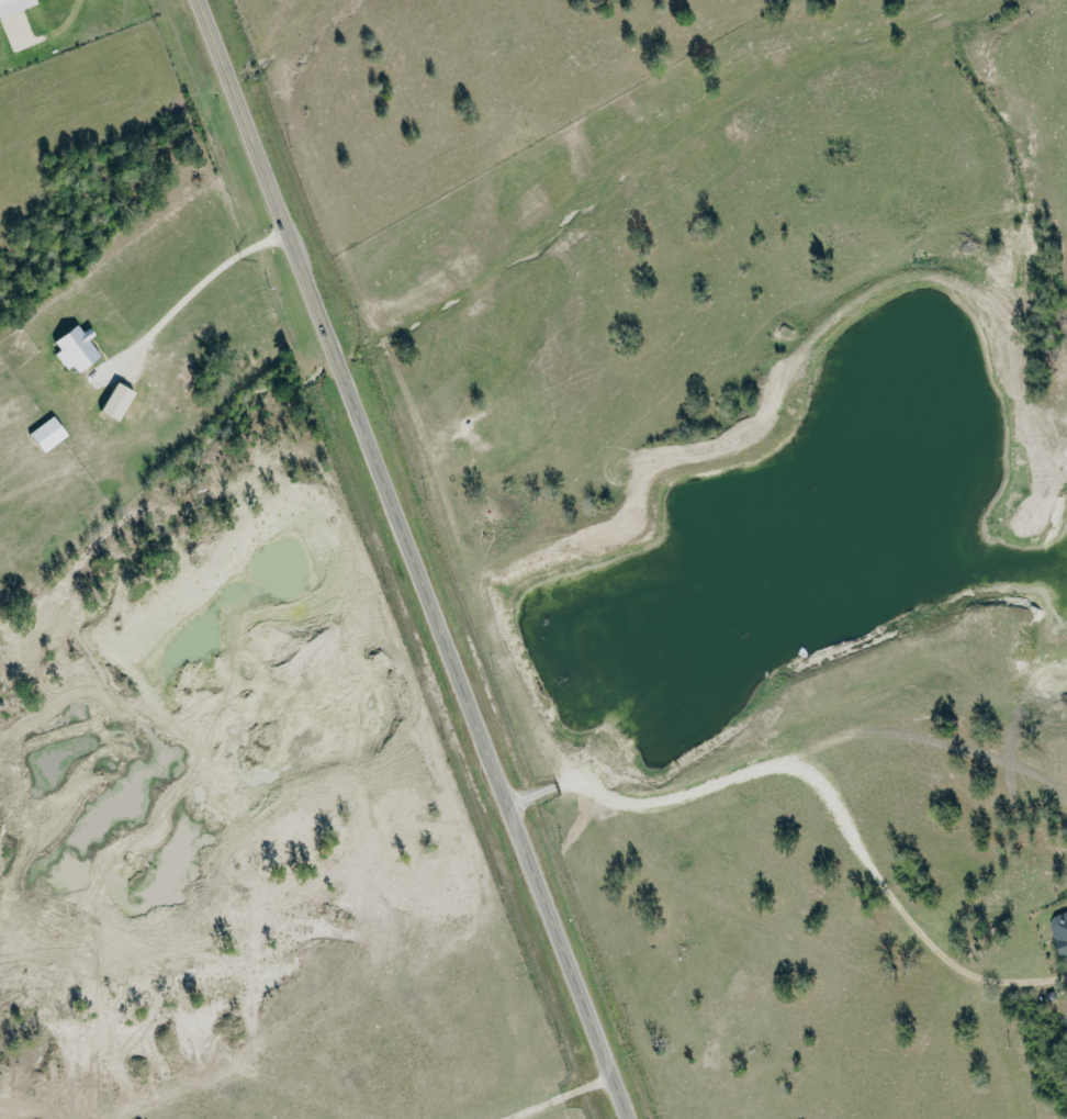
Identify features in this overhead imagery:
building: (14, 8)
building: (79, 348)
building: (120, 401)
road: (415, 559)
building: (1062, 930)

